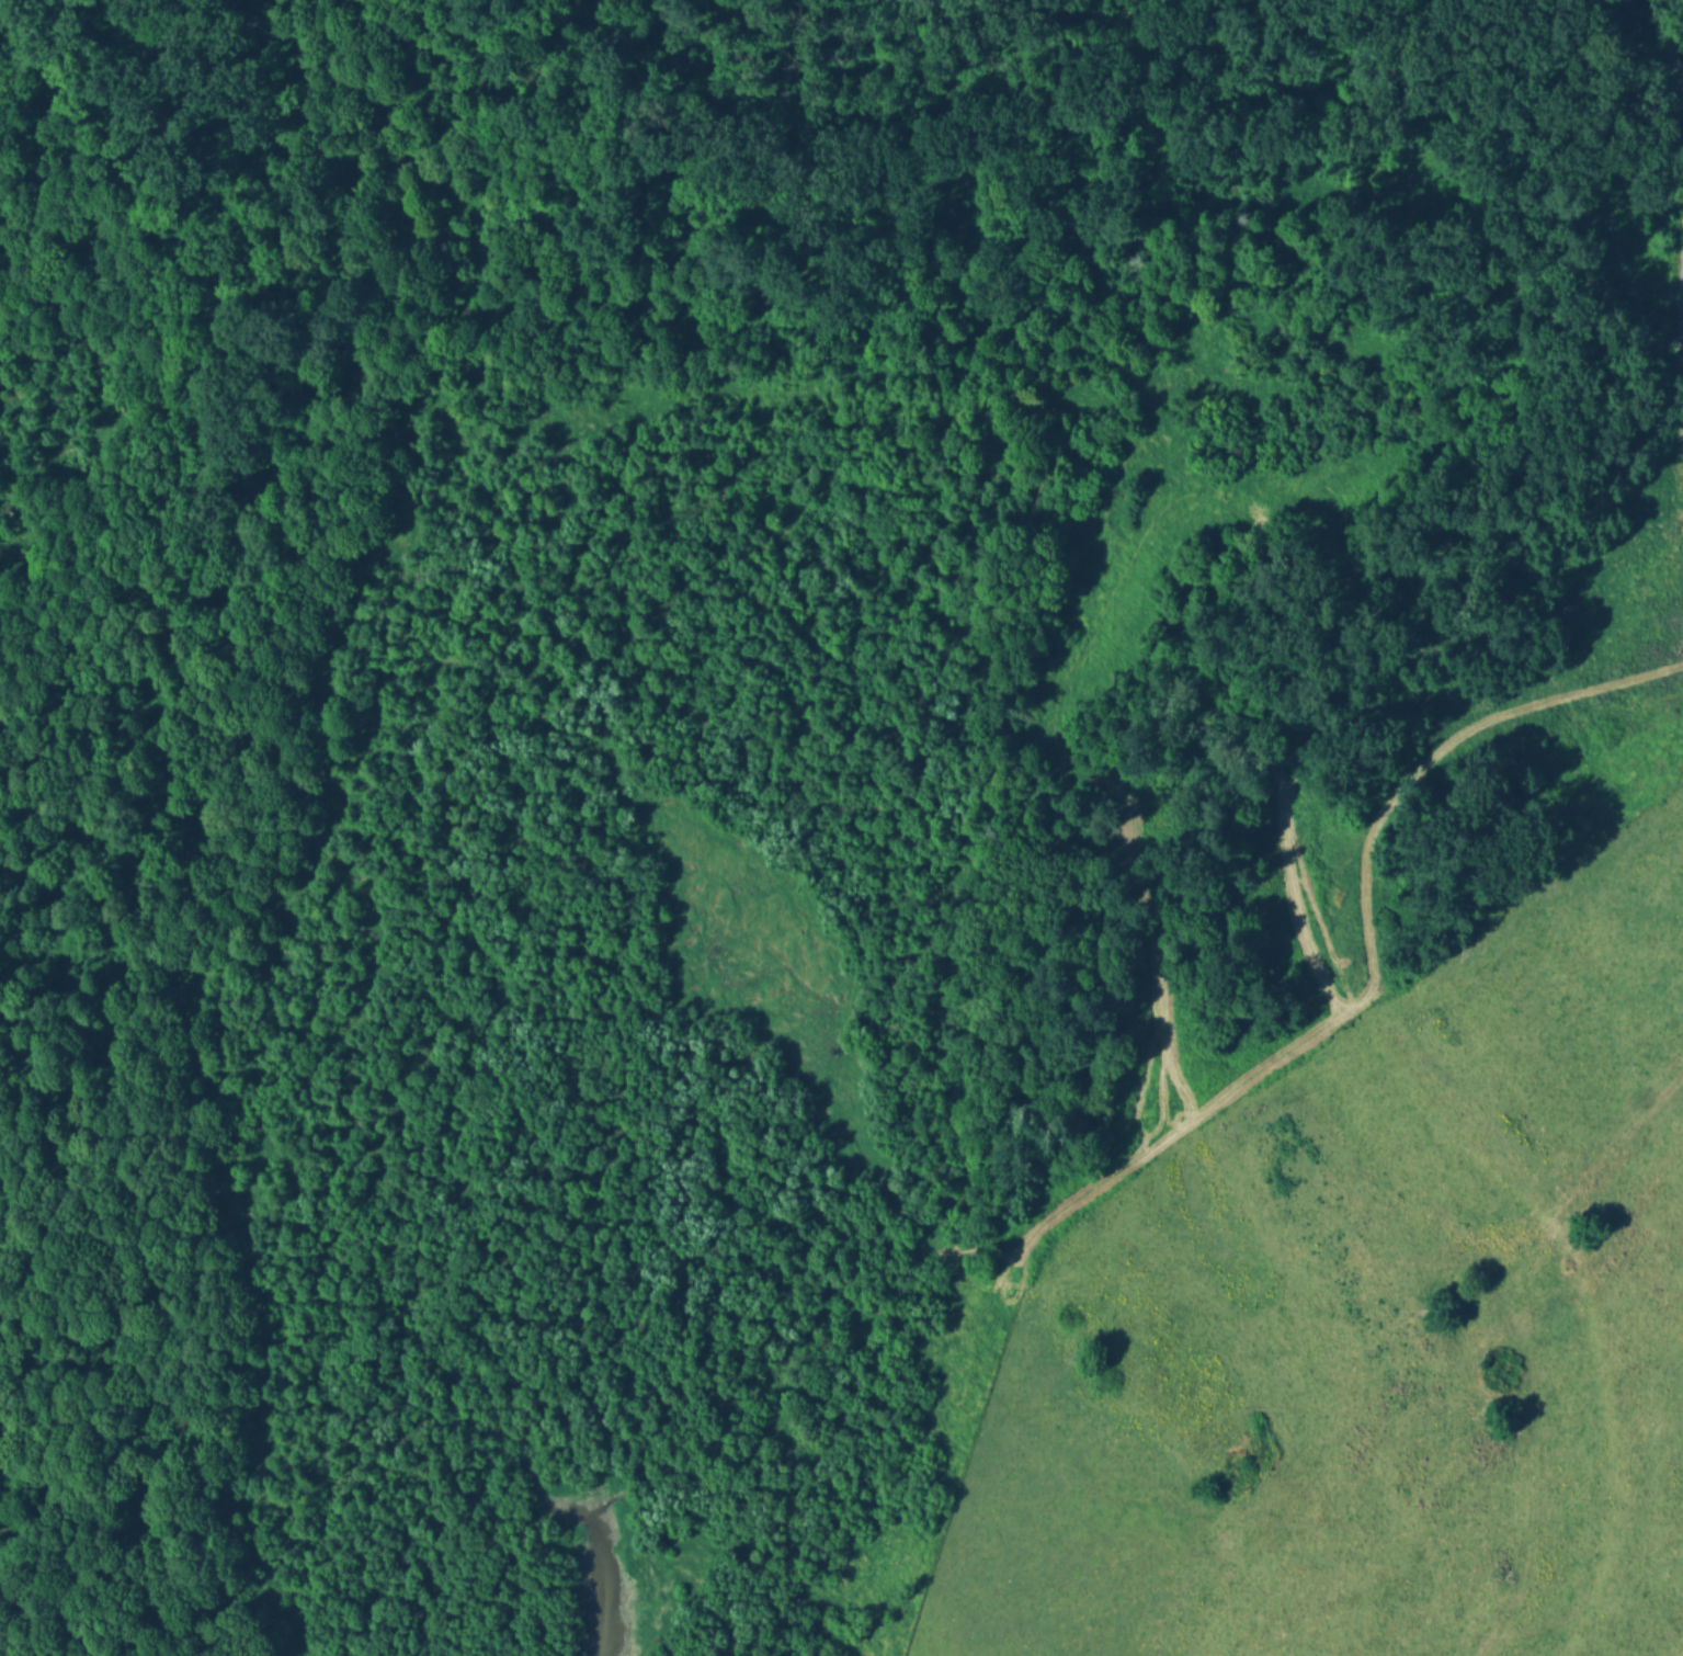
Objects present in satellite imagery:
road: (1670, 58)
road: (1679, 344)
road: (1493, 1214)

